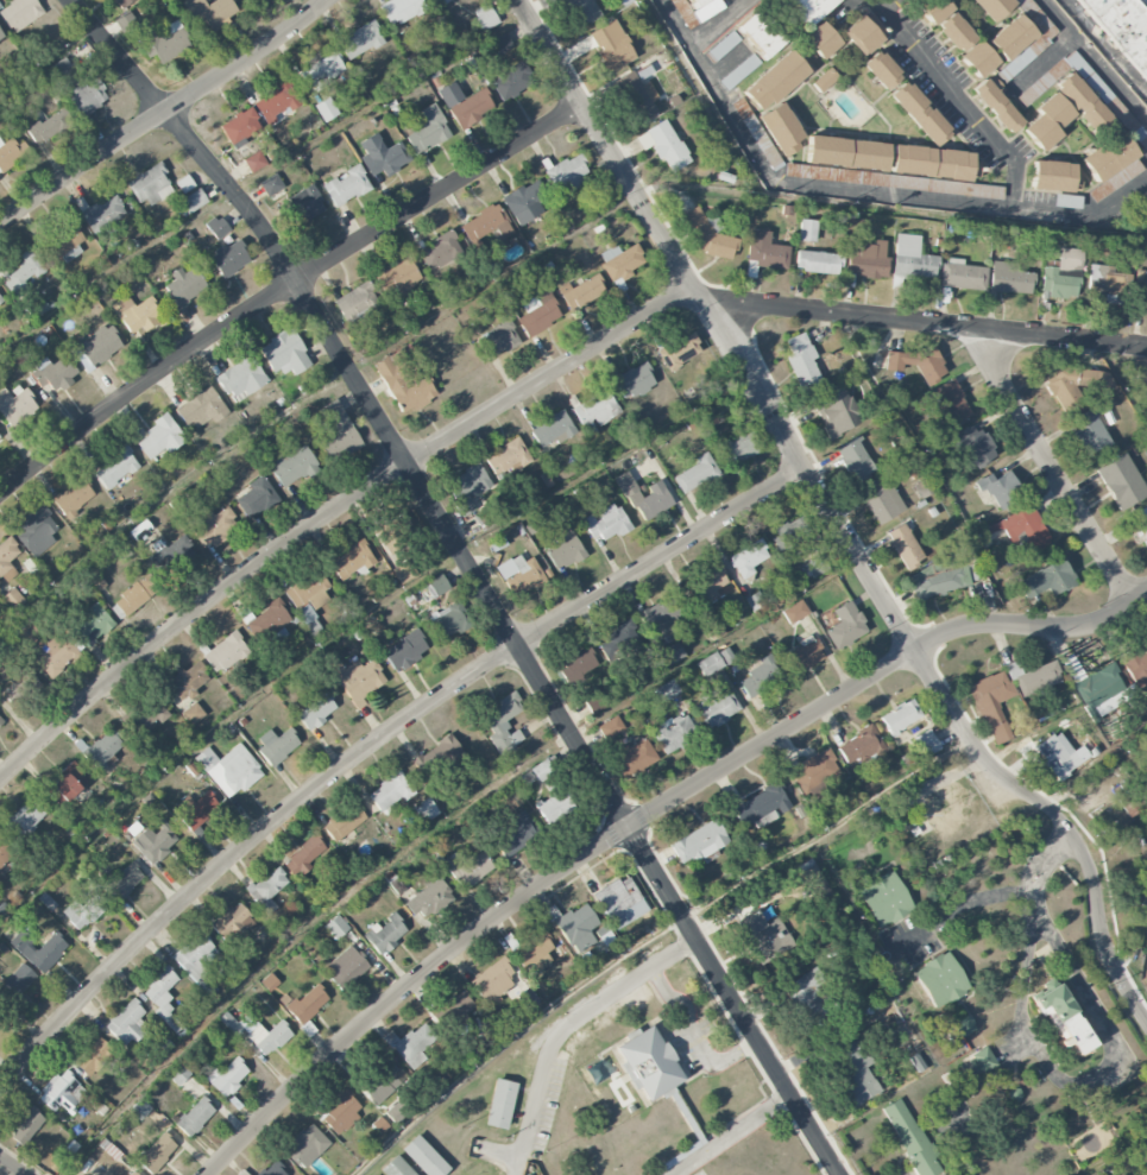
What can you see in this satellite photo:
building: (440, 1)
building: (122, 2)
building: (694, 4)
road: (889, 7)
building: (991, 7)
building: (401, 10)
building: (579, 10)
building: (807, 10)
building: (210, 11)
building: (19, 13)
building: (484, 17)
road: (887, 17)
building: (126, 21)
road: (714, 21)
building: (1123, 27)
building: (864, 32)
building: (758, 34)
building: (957, 34)
building: (0, 37)
building: (1010, 37)
building: (820, 39)
building: (359, 40)
building: (164, 42)
building: (499, 44)
road: (1058, 45)
building: (611, 46)
building: (721, 46)
building: (1015, 64)
building: (61, 69)
building: (882, 69)
building: (322, 71)
building: (738, 71)
road: (1109, 75)
building: (825, 80)
building: (511, 81)
building: (775, 81)
building: (87, 96)
building: (636, 96)
building: (1109, 101)
building: (275, 102)
building: (996, 103)
building: (465, 105)
building: (1084, 105)
building: (326, 109)
road: (163, 112)
building: (920, 112)
building: (1046, 121)
building: (49, 126)
building: (240, 126)
building: (780, 128)
building: (428, 129)
building: (756, 133)
building: (663, 145)
building: (10, 152)
building: (846, 153)
building: (382, 156)
building: (1107, 156)
building: (254, 162)
building: (933, 163)
building: (567, 172)
road: (1016, 176)
building: (1054, 176)
building: (1115, 181)
road: (787, 182)
building: (151, 185)
building: (271, 185)
building: (346, 185)
building: (1067, 201)
building: (191, 202)
building: (524, 202)
building: (307, 203)
building: (101, 213)
building: (487, 223)
building: (216, 227)
building: (807, 230)
building: (710, 235)
building: (68, 244)
building: (441, 251)
building: (229, 258)
building: (866, 259)
building: (1069, 259)
building: (620, 260)
building: (910, 260)
building: (818, 261)
building: (23, 273)
building: (962, 274)
building: (399, 278)
building: (1009, 278)
building: (1058, 284)
building: (1107, 284)
building: (183, 285)
building: (1141, 288)
road: (284, 289)
building: (580, 292)
building: (0, 298)
building: (357, 304)
building: (136, 312)
building: (537, 312)
building: (497, 340)
building: (99, 346)
building: (679, 350)
building: (284, 354)
building: (802, 362)
building: (918, 364)
building: (53, 373)
building: (241, 378)
building: (404, 379)
building: (634, 380)
building: (1073, 384)
road: (523, 391)
building: (15, 406)
building: (201, 409)
building: (595, 409)
building: (836, 411)
building: (338, 429)
building: (553, 429)
building: (1090, 432)
building: (159, 437)
building: (0, 440)
building: (973, 446)
building: (739, 448)
building: (506, 457)
building: (856, 460)
building: (294, 466)
building: (115, 468)
road: (1051, 472)
building: (695, 474)
building: (1121, 481)
building: (998, 487)
building: (466, 488)
building: (74, 497)
building: (256, 497)
building: (644, 498)
building: (881, 499)
road: (834, 517)
building: (485, 518)
building: (1142, 522)
building: (606, 523)
building: (213, 528)
building: (1020, 530)
building: (36, 531)
building: (790, 532)
building: (386, 538)
building: (905, 545)
building: (563, 550)
building: (177, 552)
building: (748, 558)
building: (7, 560)
building: (351, 561)
building: (815, 567)
road: (473, 574)
building: (519, 574)
building: (937, 577)
building: (1047, 579)
building: (437, 585)
building: (707, 585)
building: (309, 589)
building: (137, 593)
building: (12, 599)
building: (304, 611)
building: (794, 611)
building: (270, 618)
building: (661, 618)
building: (452, 620)
building: (90, 624)
building: (845, 625)
building: (618, 639)
building: (405, 649)
building: (225, 652)
building: (672, 653)
building: (55, 655)
building: (805, 655)
building: (710, 664)
building: (576, 667)
building: (1136, 667)
building: (761, 676)
building: (355, 677)
building: (1033, 677)
building: (187, 680)
building: (19, 686)
building: (666, 691)
building: (594, 702)
building: (992, 705)
building: (717, 707)
building: (146, 710)
building: (315, 710)
building: (193, 714)
building: (1, 721)
building: (502, 722)
building: (610, 727)
building: (673, 733)
road: (374, 743)
building: (276, 746)
building: (859, 746)
building: (101, 750)
building: (1057, 754)
building: (439, 757)
building: (635, 757)
road: (1096, 763)
building: (191, 769)
building: (228, 769)
building: (546, 769)
building: (817, 771)
building: (65, 783)
building: (390, 792)
building: (760, 804)
building: (554, 806)
building: (194, 809)
building: (426, 809)
building: (947, 810)
road: (643, 817)
building: (23, 819)
water tower: (935, 820)
building: (344, 822)
building: (515, 834)
building: (155, 840)
building: (699, 841)
building: (5, 853)
building: (305, 854)
building: (472, 870)
building: (124, 880)
building: (815, 882)
building: (267, 889)
building: (428, 899)
building: (886, 899)
building: (45, 901)
building: (619, 902)
road: (957, 905)
building: (81, 912)
building: (231, 923)
building: (336, 927)
building: (576, 927)
building: (385, 934)
building: (764, 936)
road: (650, 937)
building: (534, 949)
building: (43, 950)
building: (196, 959)
building: (345, 967)
building: (493, 979)
building: (940, 980)
building: (269, 981)
building: (14, 985)
building: (162, 997)
building: (812, 999)
building: (304, 1006)
building: (454, 1011)
road: (575, 1018)
building: (1063, 1018)
building: (126, 1023)
building: (231, 1024)
building: (964, 1025)
building: (267, 1037)
road: (692, 1037)
building: (411, 1044)
road: (1117, 1051)
building: (92, 1056)
building: (656, 1059)
building: (978, 1062)
building: (177, 1073)
building: (855, 1073)
road: (987, 1074)
building: (227, 1076)
building: (383, 1082)
building: (59, 1092)
building: (506, 1099)
building: (139, 1108)
building: (340, 1112)
building: (193, 1117)
building: (26, 1125)
building: (379, 1125)
road: (731, 1133)
building: (909, 1138)
building: (305, 1145)
building: (157, 1152)
building: (430, 1154)
road: (1115, 1156)
building: (404, 1165)
building: (272, 1169)
road: (5, 1171)
building: (133, 1174)
building: (376, 1174)

